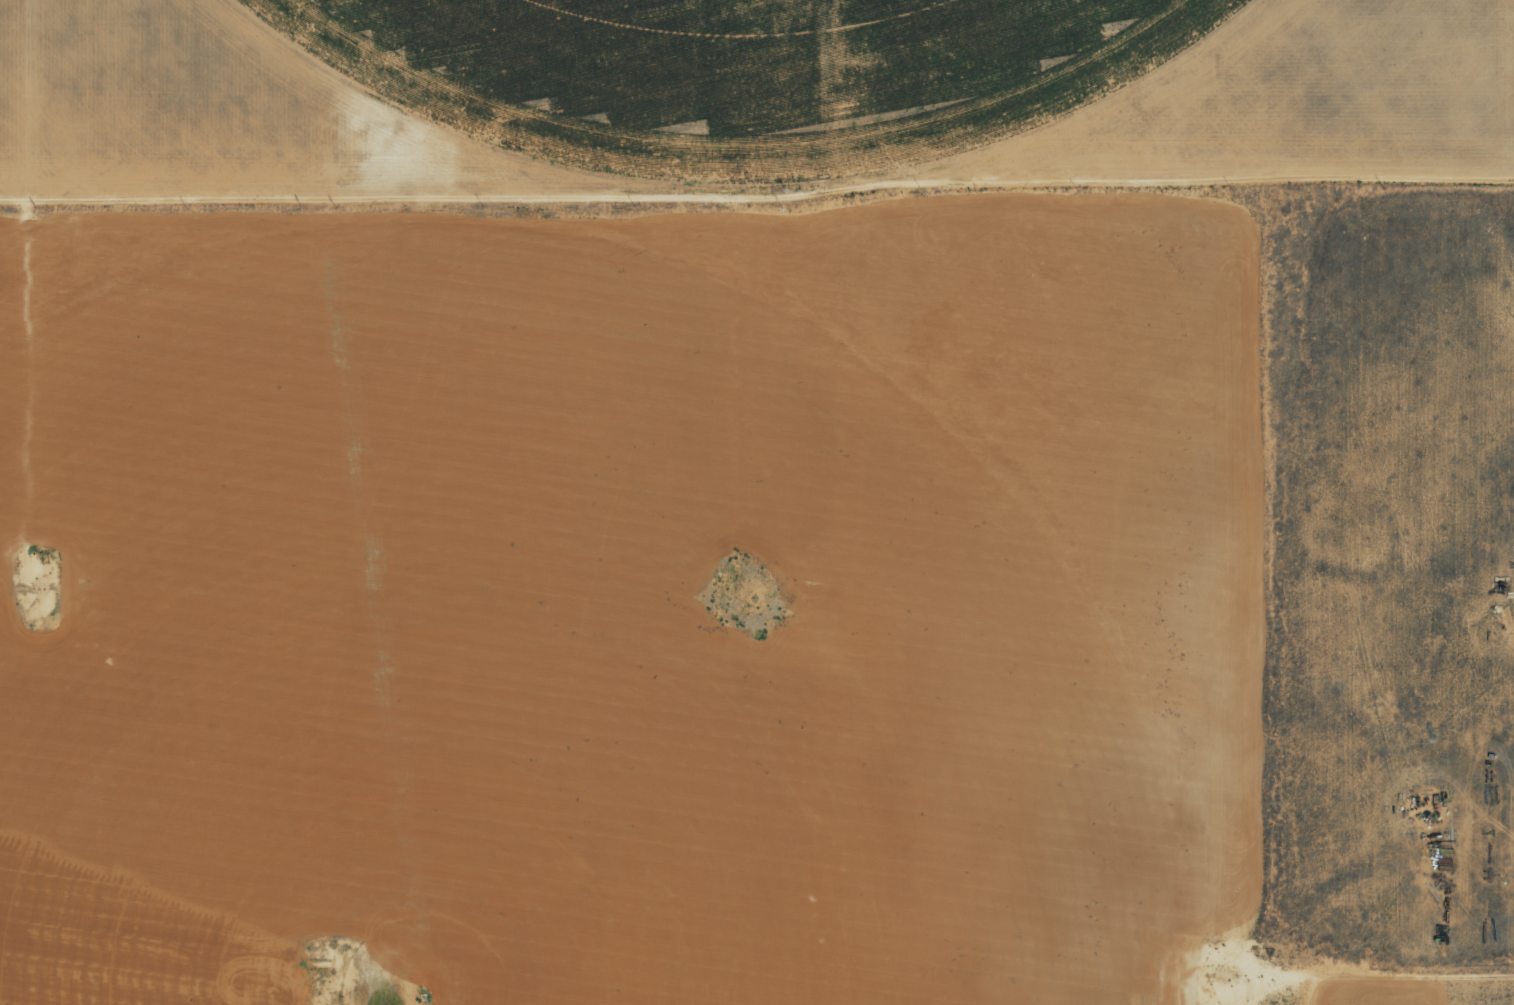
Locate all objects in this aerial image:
road: (803, 84)
road: (31, 89)
road: (757, 169)
road: (841, 405)

